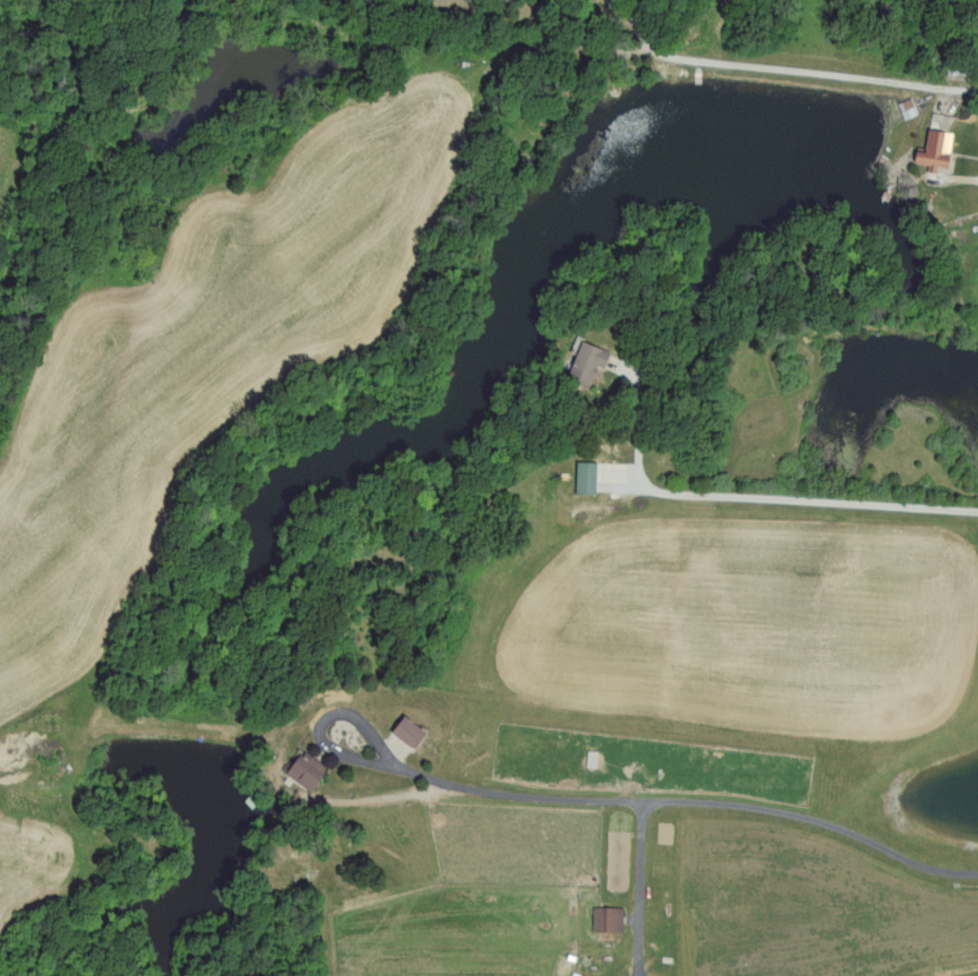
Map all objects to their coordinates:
road: (790, 78)
building: (904, 107)
building: (931, 148)
building: (977, 303)
building: (584, 361)
building: (582, 476)
road: (756, 497)
road: (324, 718)
building: (402, 730)
building: (301, 770)
road: (692, 801)
road: (641, 884)
building: (604, 918)

